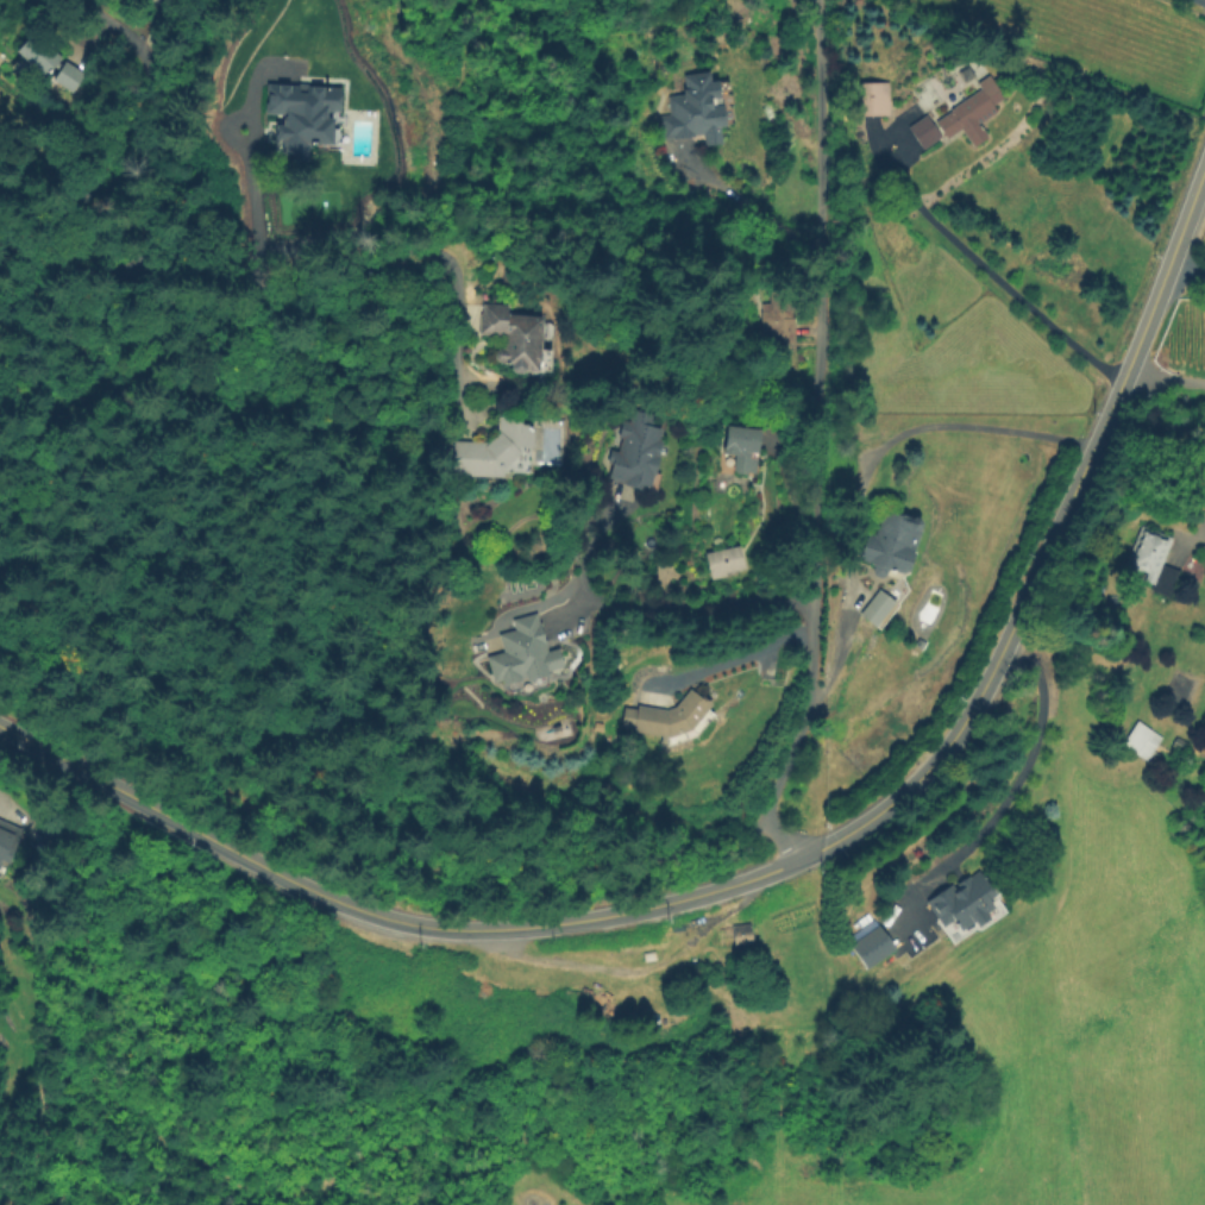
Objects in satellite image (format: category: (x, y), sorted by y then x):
road: (1199, 1)
building: (36, 55)
road: (132, 71)
building: (67, 77)
building: (871, 100)
building: (697, 113)
building: (972, 113)
building: (302, 115)
building: (920, 126)
road: (249, 207)
road: (740, 208)
road: (382, 249)
road: (1184, 271)
road: (992, 276)
road: (462, 290)
building: (778, 321)
building: (513, 338)
road: (1162, 379)
road: (967, 426)
road: (1156, 428)
road: (817, 441)
building: (491, 450)
building: (741, 450)
building: (639, 454)
road: (791, 501)
road: (1197, 527)
building: (890, 542)
building: (724, 563)
building: (1153, 564)
road: (238, 590)
road: (648, 604)
building: (877, 608)
road: (736, 659)
building: (526, 660)
building: (672, 717)
building: (1143, 743)
building: (1180, 745)
road: (1021, 770)
road: (665, 824)
building: (7, 841)
road: (786, 864)
building: (964, 902)
building: (742, 936)
building: (873, 947)

